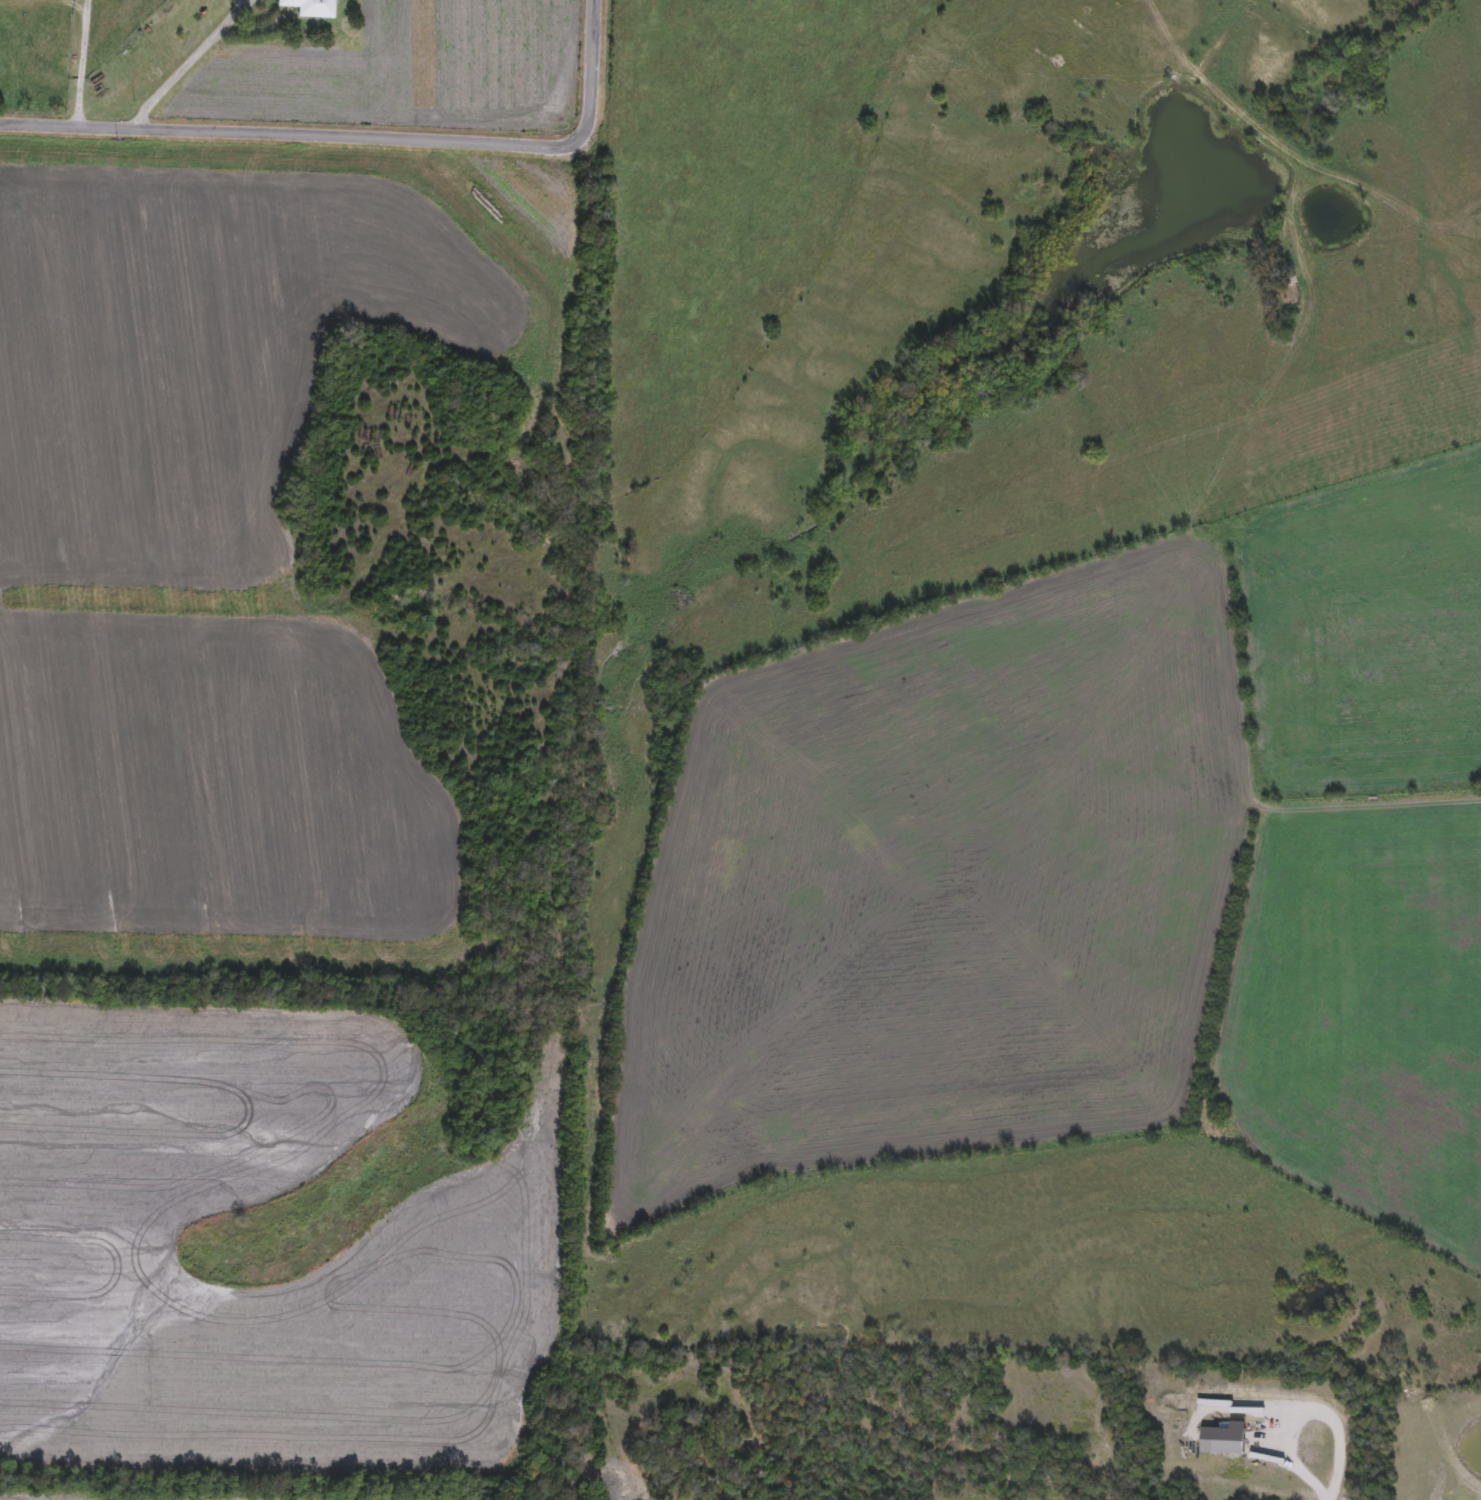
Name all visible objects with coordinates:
building: (310, 7)
road: (189, 61)
road: (82, 71)
road: (357, 136)

